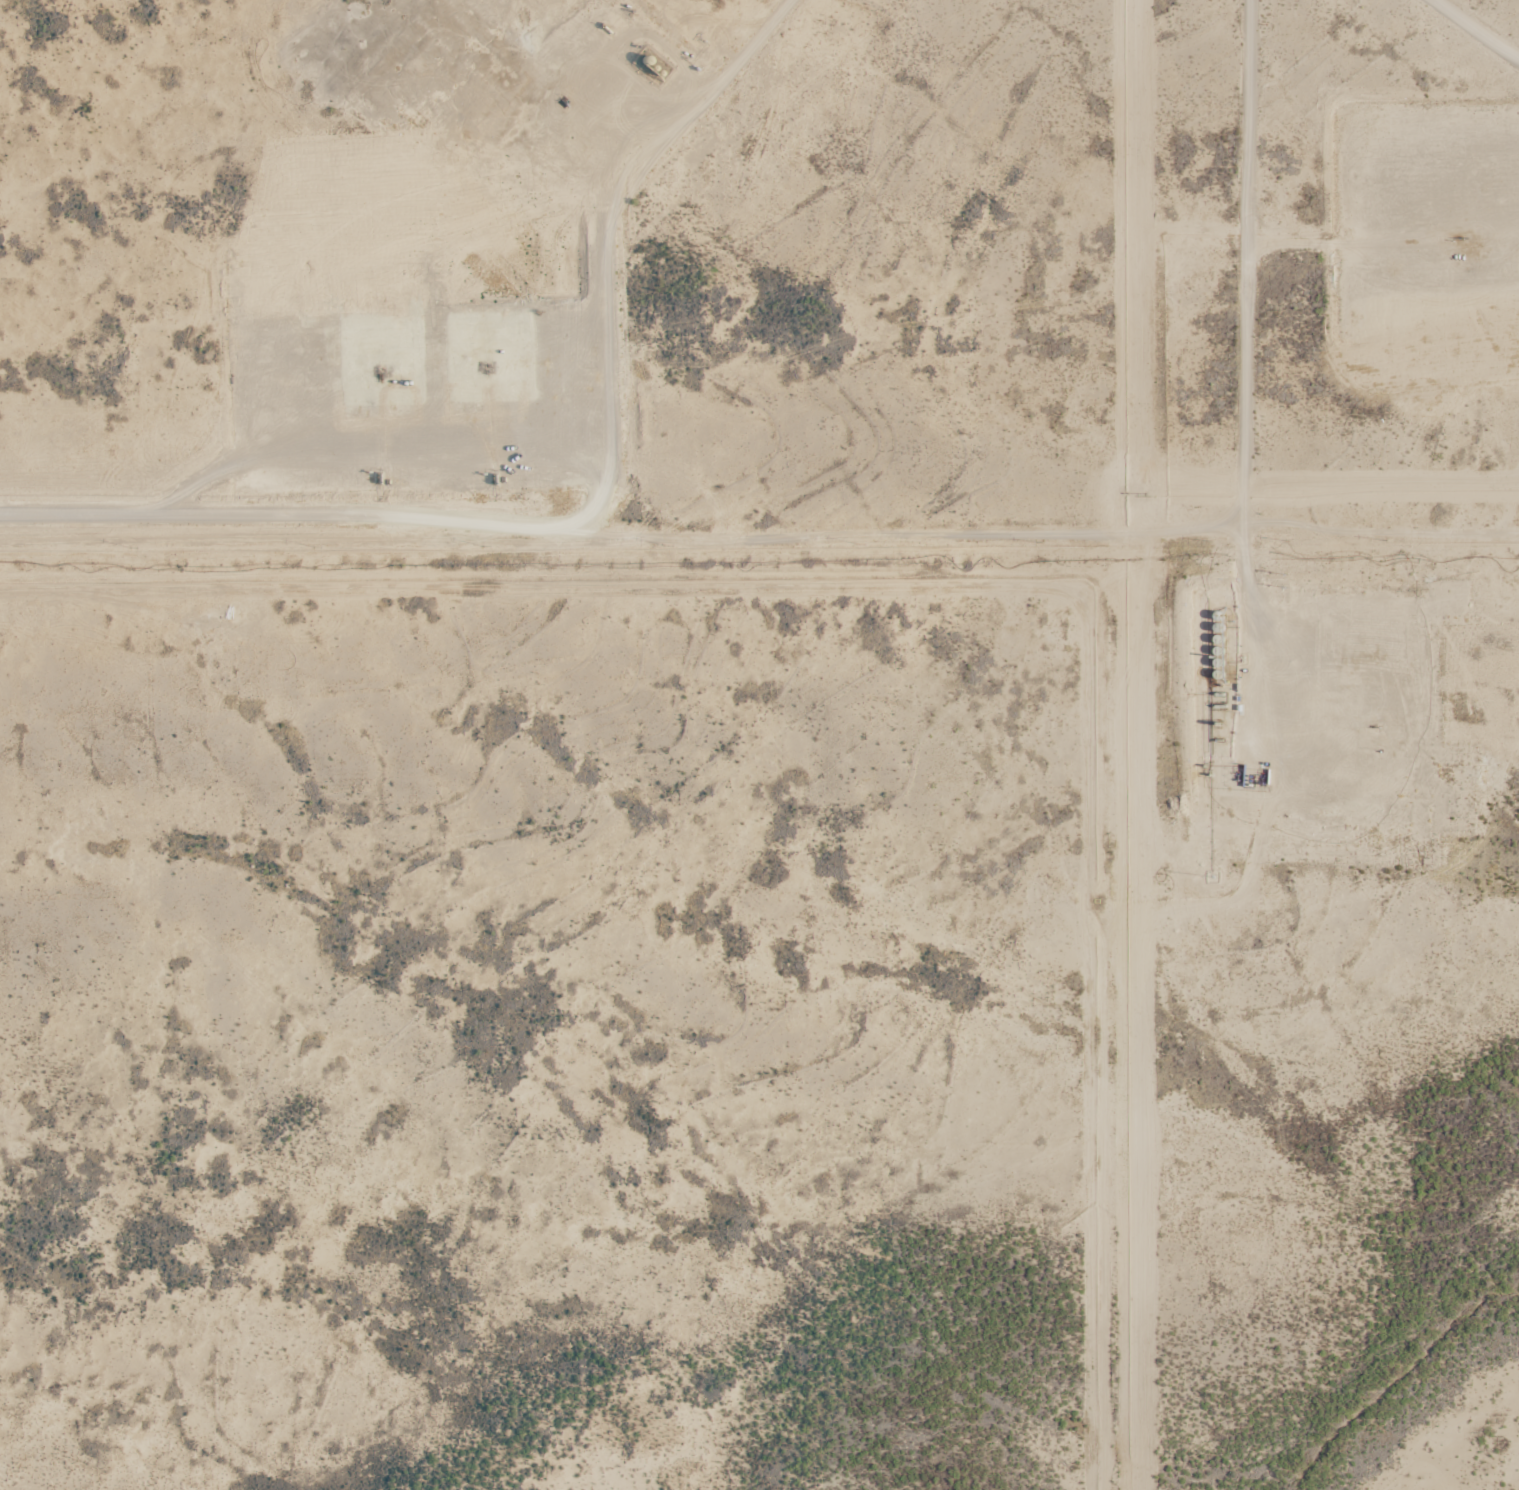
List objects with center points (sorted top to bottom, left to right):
road: (1474, 33)
road: (588, 513)

